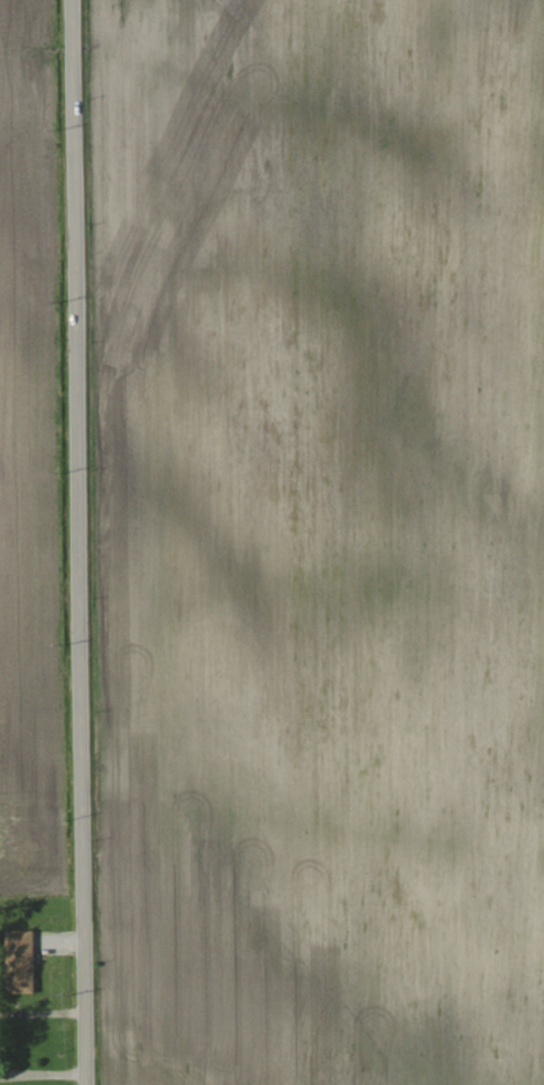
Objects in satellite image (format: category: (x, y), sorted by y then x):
road: (81, 542)
building: (32, 963)

